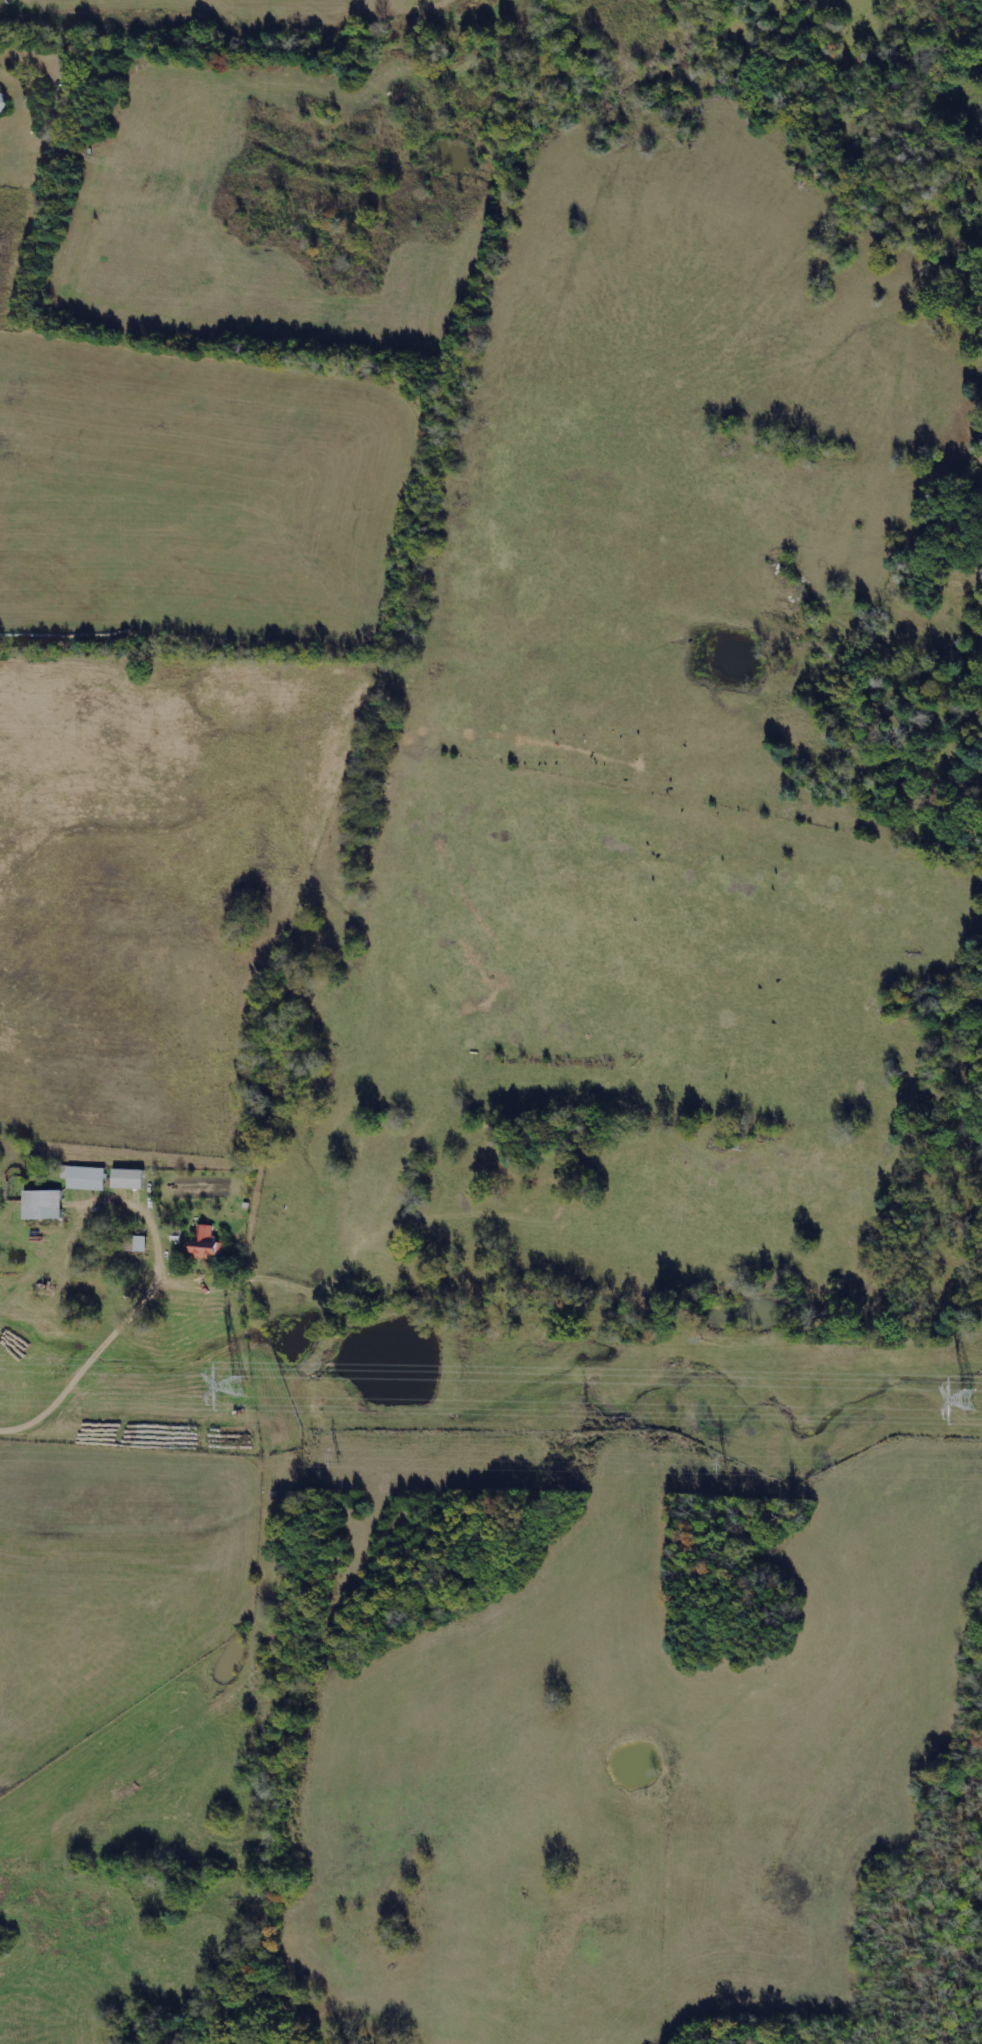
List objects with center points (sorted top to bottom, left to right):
building: (0, 96)
building: (85, 1177)
building: (129, 1178)
building: (44, 1204)
building: (207, 1242)
road: (113, 1337)
power tower: (247, 1388)
power tower: (965, 1398)

